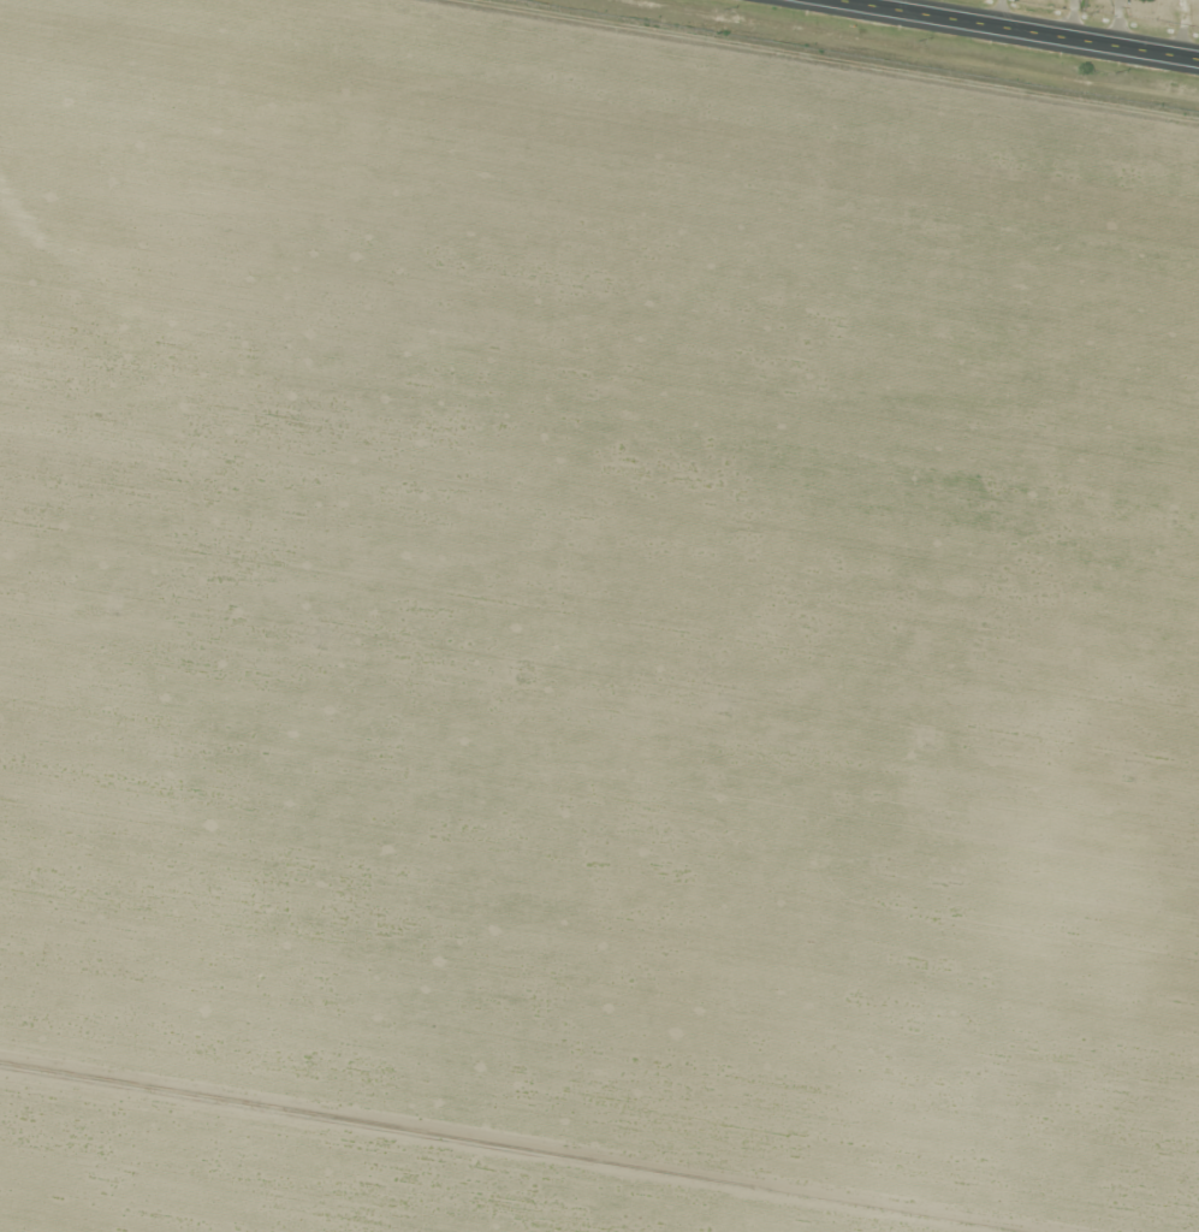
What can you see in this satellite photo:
road: (1017, 29)

